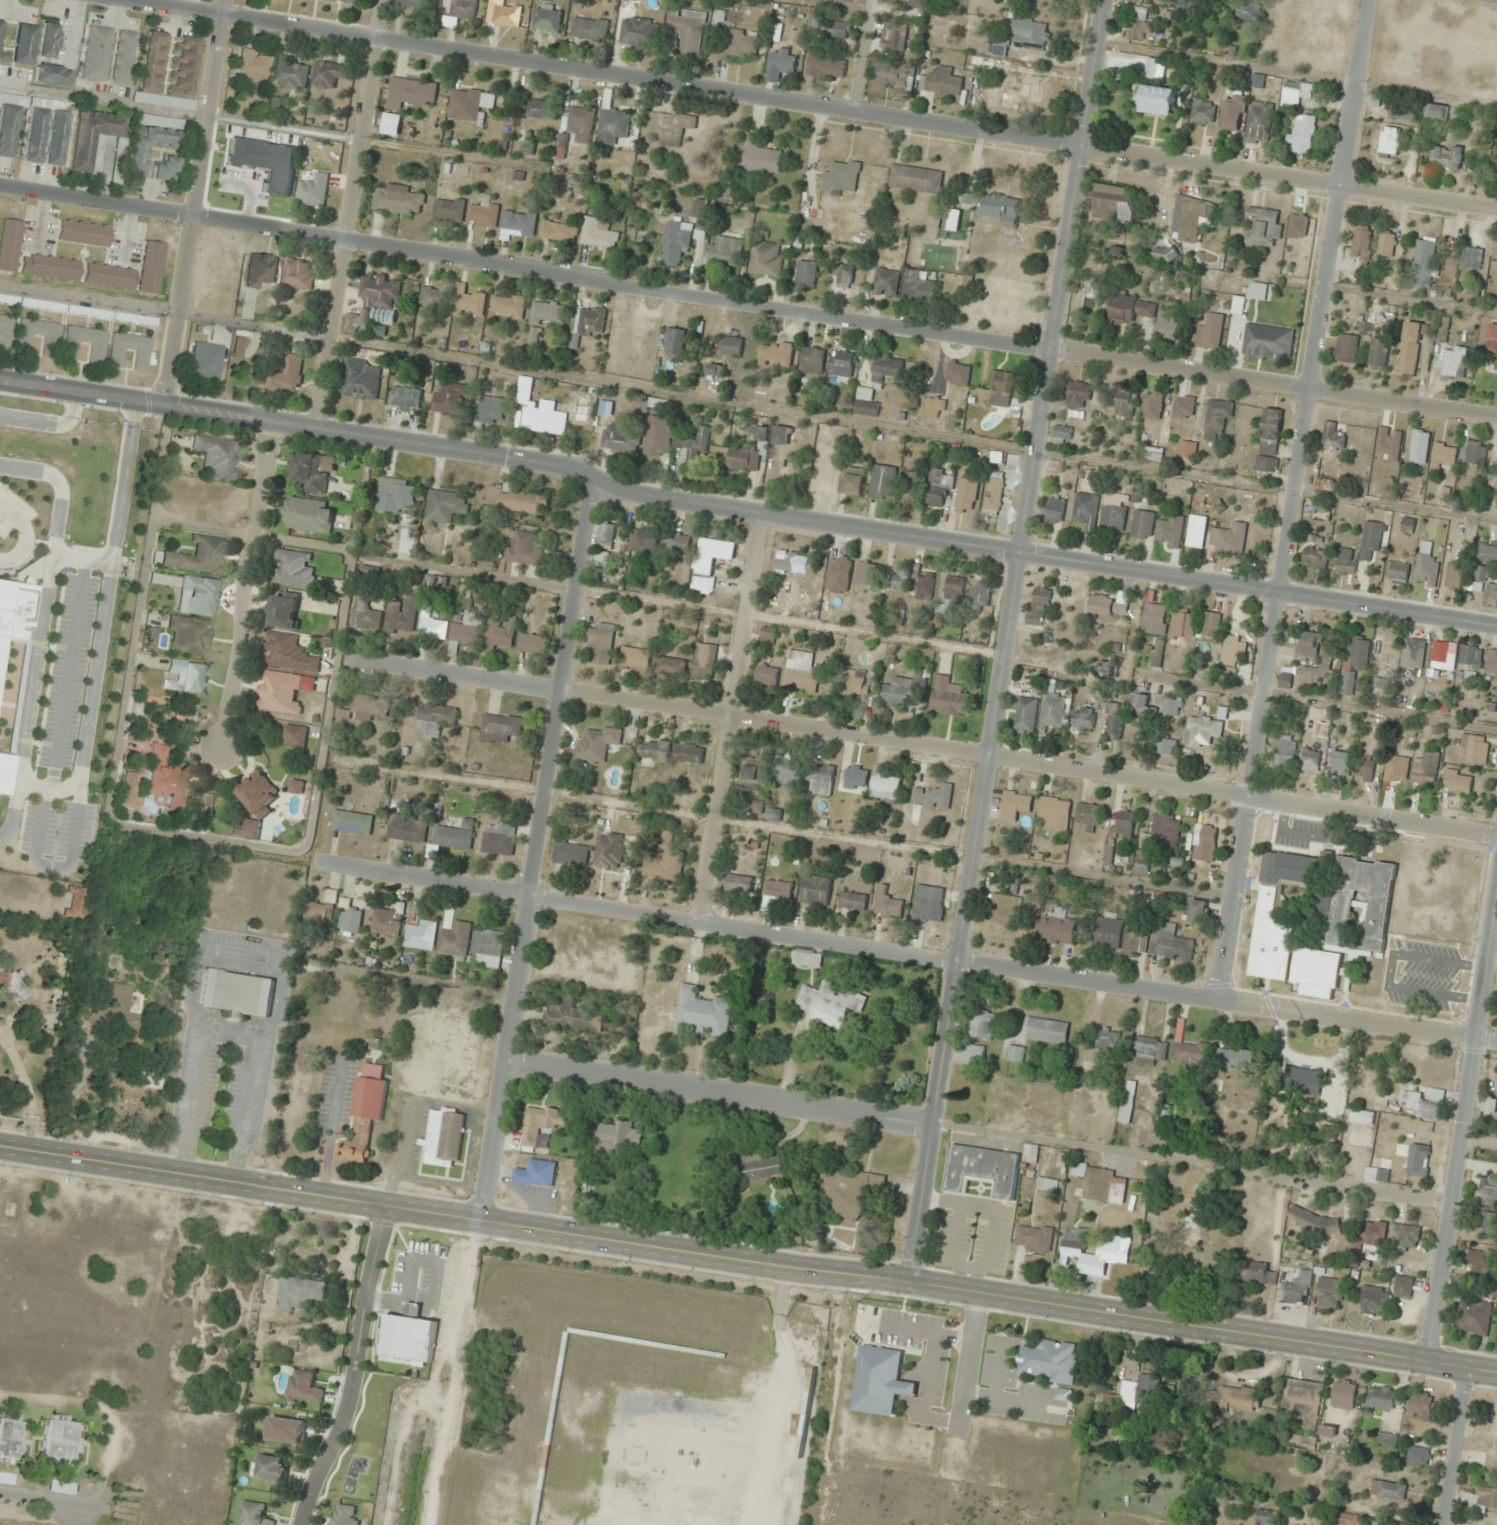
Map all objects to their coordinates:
building: (333, 0)
building: (1061, 0)
building: (352, 1)
building: (910, 2)
building: (411, 3)
building: (1189, 4)
building: (463, 8)
building: (1248, 11)
building: (507, 14)
building: (547, 18)
building: (1139, 24)
building: (0, 26)
building: (829, 27)
building: (589, 28)
building: (688, 28)
building: (639, 32)
building: (1030, 33)
building: (894, 37)
building: (738, 44)
building: (23, 45)
building: (97, 54)
road: (859, 57)
building: (125, 58)
building: (783, 60)
building: (253, 66)
building: (826, 67)
building: (1155, 68)
building: (168, 71)
building: (289, 73)
building: (328, 74)
building: (52, 75)
building: (895, 75)
building: (1257, 80)
building: (941, 81)
building: (413, 92)
building: (1295, 93)
building: (1023, 95)
building: (1157, 100)
building: (274, 103)
building: (470, 103)
building: (541, 109)
road: (812, 109)
building: (1436, 111)
building: (1202, 112)
building: (1230, 116)
building: (578, 120)
building: (612, 121)
building: (1259, 122)
building: (392, 124)
building: (668, 126)
building: (7, 130)
building: (1303, 133)
building: (34, 136)
building: (56, 139)
building: (153, 139)
building: (1390, 141)
building: (96, 143)
building: (1447, 156)
building: (760, 157)
building: (165, 169)
building: (842, 176)
building: (915, 179)
building: (313, 190)
building: (399, 200)
road: (194, 202)
building: (1112, 204)
building: (995, 206)
building: (701, 208)
building: (448, 211)
building: (483, 213)
road: (350, 214)
building: (1190, 218)
building: (519, 221)
building: (1263, 227)
building: (559, 231)
building: (84, 233)
building: (598, 233)
building: (1362, 242)
building: (675, 243)
building: (1386, 244)
building: (10, 245)
building: (725, 252)
building: (1117, 252)
building: (1424, 252)
building: (1164, 254)
building: (766, 258)
building: (1473, 258)
building: (50, 267)
building: (151, 268)
building: (260, 270)
building: (298, 273)
building: (806, 273)
building: (843, 274)
building: (109, 276)
building: (886, 282)
building: (918, 285)
building: (1090, 287)
building: (1257, 291)
building: (451, 299)
road: (748, 301)
building: (375, 304)
building: (507, 305)
building: (1131, 308)
building: (90, 312)
building: (548, 313)
building: (145, 320)
building: (591, 322)
building: (1168, 326)
building: (5, 331)
building: (1209, 332)
building: (39, 336)
building: (1492, 338)
building: (674, 342)
building: (1268, 342)
building: (731, 345)
building: (1408, 347)
building: (238, 348)
building: (1346, 348)
building: (130, 350)
building: (97, 352)
building: (1377, 352)
building: (775, 354)
building: (812, 360)
building: (207, 361)
building: (1455, 361)
building: (841, 364)
building: (887, 367)
building: (715, 369)
building: (958, 373)
building: (287, 374)
building: (361, 379)
building: (1001, 389)
building: (1078, 395)
building: (405, 397)
building: (450, 398)
building: (866, 403)
building: (1124, 405)
building: (1152, 405)
building: (936, 406)
building: (1184, 407)
building: (490, 410)
building: (539, 411)
building: (1217, 417)
building: (1062, 432)
building: (762, 434)
building: (781, 435)
building: (657, 436)
building: (1334, 436)
building: (620, 439)
building: (1269, 440)
building: (693, 442)
building: (1389, 443)
building: (1419, 447)
building: (1188, 449)
building: (1473, 452)
building: (1443, 455)
building: (217, 456)
building: (743, 459)
building: (1056, 466)
building: (308, 472)
building: (852, 481)
building: (882, 482)
building: (1326, 484)
building: (914, 487)
building: (938, 487)
building: (1177, 490)
building: (993, 494)
building: (394, 495)
building: (966, 495)
road: (1295, 500)
building: (523, 501)
building: (444, 506)
road: (745, 510)
building: (1055, 510)
building: (1086, 510)
building: (1113, 511)
building: (1322, 511)
building: (306, 515)
building: (1142, 524)
building: (1408, 525)
building: (1167, 528)
building: (1196, 531)
building: (606, 535)
building: (1228, 538)
building: (1370, 539)
building: (643, 540)
building: (679, 543)
building: (524, 549)
building: (1487, 554)
building: (198, 556)
building: (602, 558)
building: (1314, 558)
building: (709, 561)
building: (1346, 561)
building: (795, 563)
building: (1427, 568)
building: (294, 569)
building: (630, 570)
building: (839, 572)
building: (1397, 572)
building: (866, 573)
building: (1455, 575)
building: (1479, 579)
building: (897, 583)
road: (247, 584)
building: (953, 588)
building: (1491, 590)
building: (979, 595)
building: (198, 596)
building: (1106, 605)
building: (1038, 606)
building: (284, 611)
building: (15, 615)
building: (365, 615)
building: (401, 616)
building: (1155, 618)
building: (1183, 623)
building: (432, 624)
building: (1210, 627)
building: (468, 629)
building: (768, 633)
building: (501, 634)
building: (190, 635)
road: (1008, 641)
building: (533, 643)
building: (600, 643)
building: (1313, 644)
building: (1232, 651)
building: (289, 653)
building: (1385, 653)
building: (1413, 653)
building: (1471, 655)
building: (1442, 656)
building: (1156, 658)
building: (634, 659)
building: (704, 661)
building: (1354, 661)
building: (1492, 662)
building: (670, 666)
building: (1102, 669)
building: (800, 671)
building: (766, 674)
building: (188, 675)
building: (1307, 678)
building: (851, 684)
building: (279, 692)
building: (898, 692)
building: (949, 697)
building: (368, 706)
building: (1171, 706)
building: (1144, 707)
building: (1052, 711)
building: (1026, 714)
road: (726, 715)
building: (1083, 719)
building: (435, 720)
building: (1113, 720)
building: (500, 727)
building: (1203, 730)
building: (1323, 730)
building: (294, 735)
building: (597, 744)
road: (923, 744)
building: (1166, 746)
building: (1475, 748)
building: (655, 750)
building: (1285, 751)
building: (690, 752)
building: (1310, 759)
building: (1341, 759)
building: (1364, 768)
building: (1394, 768)
building: (752, 769)
building: (1425, 769)
building: (786, 771)
building: (4, 772)
building: (855, 777)
building: (168, 779)
building: (821, 780)
building: (1458, 782)
building: (296, 786)
building: (885, 786)
building: (128, 790)
building: (932, 796)
building: (1014, 805)
building: (1054, 812)
building: (1088, 814)
building: (351, 822)
building: (1122, 824)
building: (407, 828)
building: (1162, 833)
building: (454, 835)
building: (499, 838)
building: (1204, 842)
road: (535, 846)
building: (609, 850)
building: (570, 852)
building: (665, 857)
building: (1141, 863)
building: (739, 883)
building: (815, 891)
building: (775, 894)
building: (853, 900)
building: (888, 903)
building: (928, 903)
building: (75, 904)
building: (1269, 905)
building: (1005, 910)
building: (315, 911)
building: (1197, 911)
building: (1377, 918)
building: (349, 920)
building: (388, 921)
building: (1056, 928)
building: (1108, 930)
building: (421, 935)
building: (454, 940)
building: (1135, 940)
building: (1170, 945)
building: (488, 946)
road: (910, 953)
building: (808, 958)
building: (1317, 973)
building: (14, 985)
building: (236, 993)
building: (830, 1003)
building: (122, 1013)
building: (702, 1013)
building: (571, 1017)
building: (982, 1024)
building: (1045, 1030)
building: (1108, 1039)
building: (1149, 1050)
building: (1014, 1054)
building: (1192, 1054)
building: (970, 1056)
building: (1236, 1060)
building: (150, 1081)
building: (1300, 1081)
road: (720, 1091)
building: (1411, 1099)
building: (1127, 1101)
building: (1490, 1104)
building: (1359, 1116)
building: (364, 1117)
building: (541, 1123)
road: (1462, 1131)
building: (444, 1137)
building: (612, 1137)
building: (1029, 1158)
building: (1418, 1160)
building: (759, 1167)
building: (982, 1169)
building: (536, 1173)
building: (1376, 1174)
building: (1047, 1184)
building: (1099, 1184)
building: (1488, 1187)
building: (847, 1192)
road: (1385, 1199)
building: (1189, 1216)
building: (1314, 1221)
building: (1488, 1224)
building: (1374, 1232)
building: (1406, 1237)
building: (1033, 1238)
building: (1112, 1248)
road: (748, 1257)
building: (1479, 1261)
building: (1256, 1272)
building: (1296, 1284)
building: (1403, 1286)
building: (301, 1292)
building: (1329, 1293)
building: (1373, 1300)
building: (1474, 1317)
building: (1049, 1360)
road: (356, 1367)
building: (880, 1381)
building: (303, 1386)
building: (1137, 1393)
building: (1343, 1393)
building: (1063, 1394)
building: (1383, 1397)
building: (1241, 1399)
building: (1303, 1401)
building: (1421, 1405)
building: (1493, 1424)
building: (284, 1430)
building: (1327, 1430)
building: (13, 1439)
building: (1387, 1439)
building: (61, 1440)
building: (1298, 1440)
road: (1453, 1445)
building: (1419, 1455)
building: (270, 1469)
building: (6, 1478)
building: (61, 1488)
building: (1388, 1489)
building: (1487, 1497)
road: (42, 1501)
building: (253, 1514)
building: (344, 1516)
building: (1264, 1517)
building: (1348, 1519)

